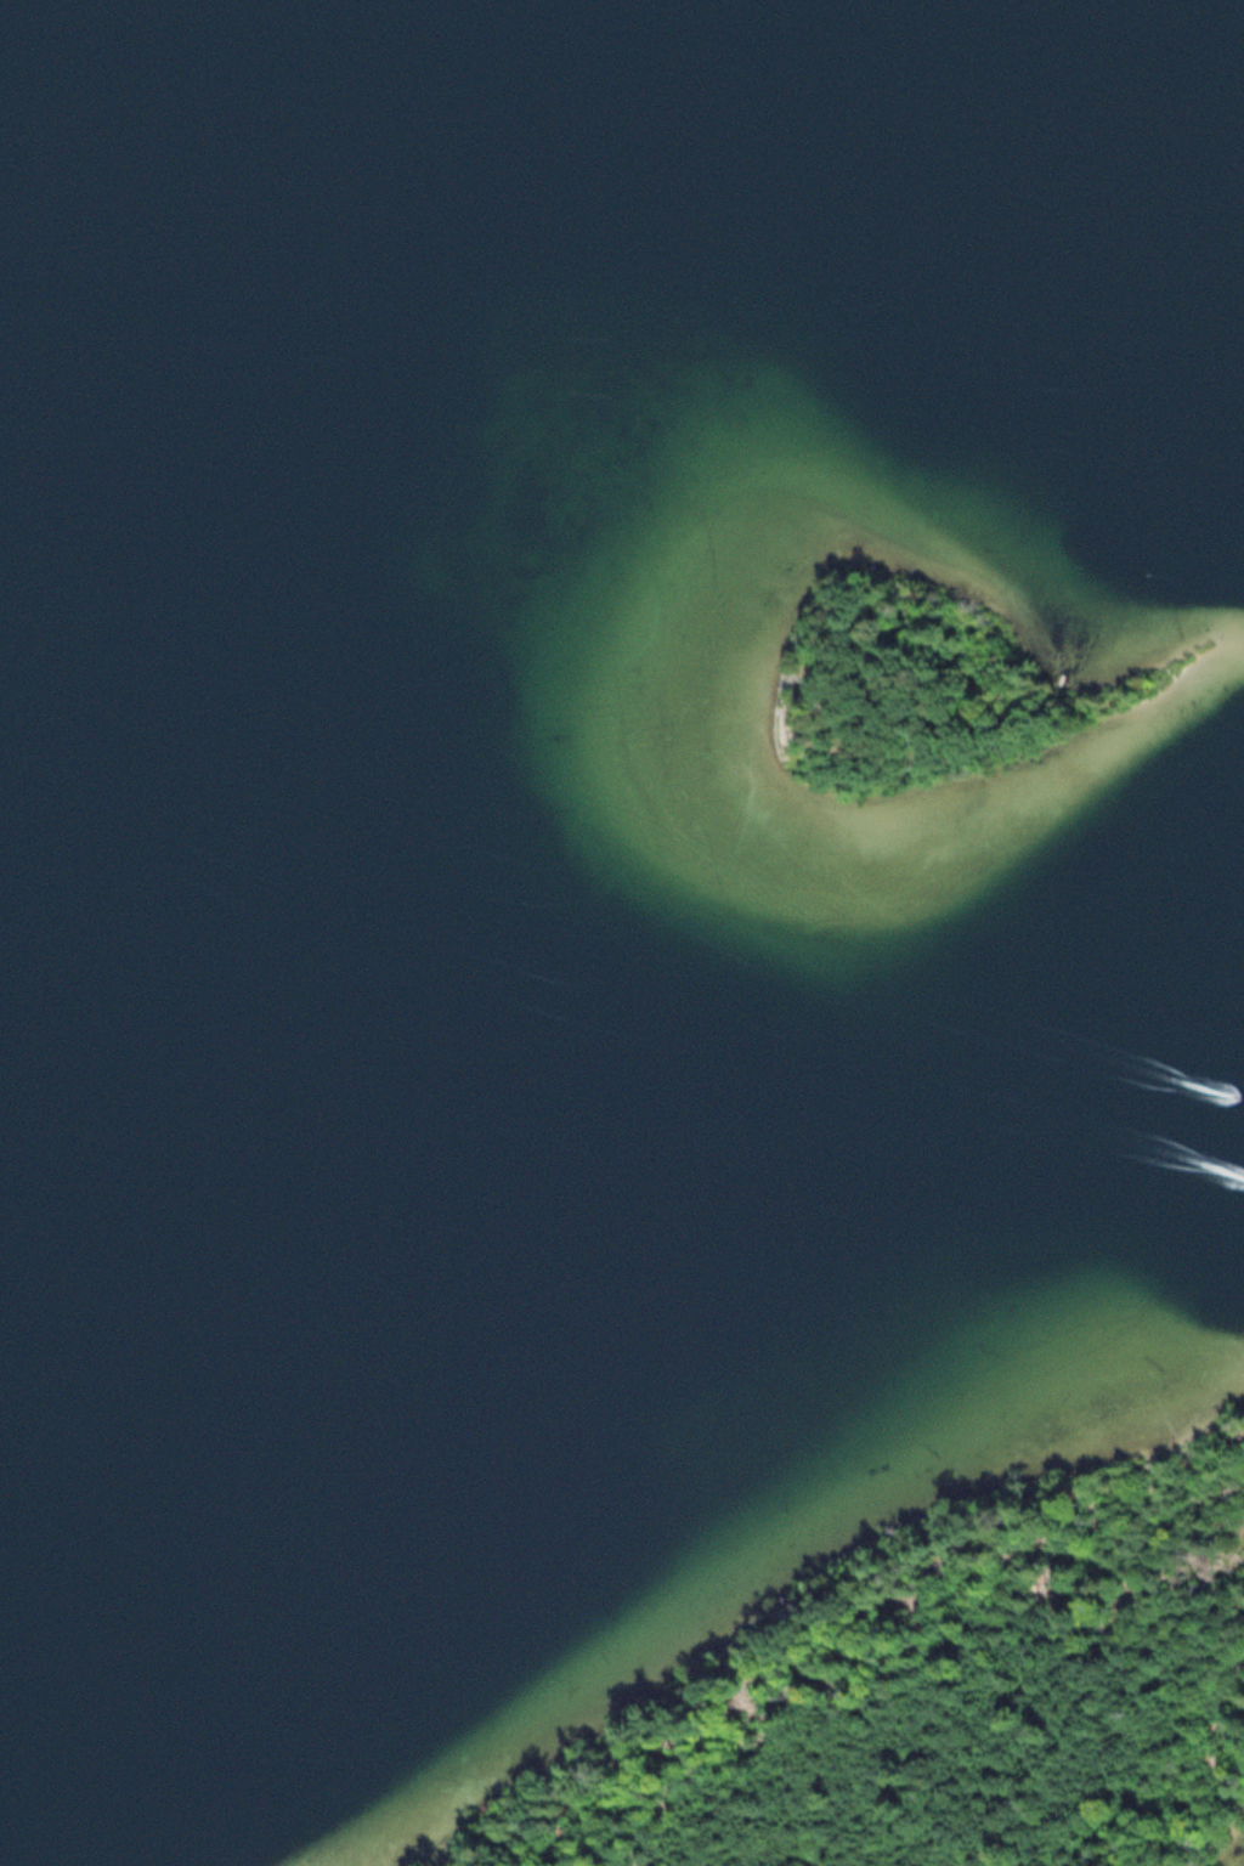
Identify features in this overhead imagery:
park: (920, 691)
park: (959, 1702)

